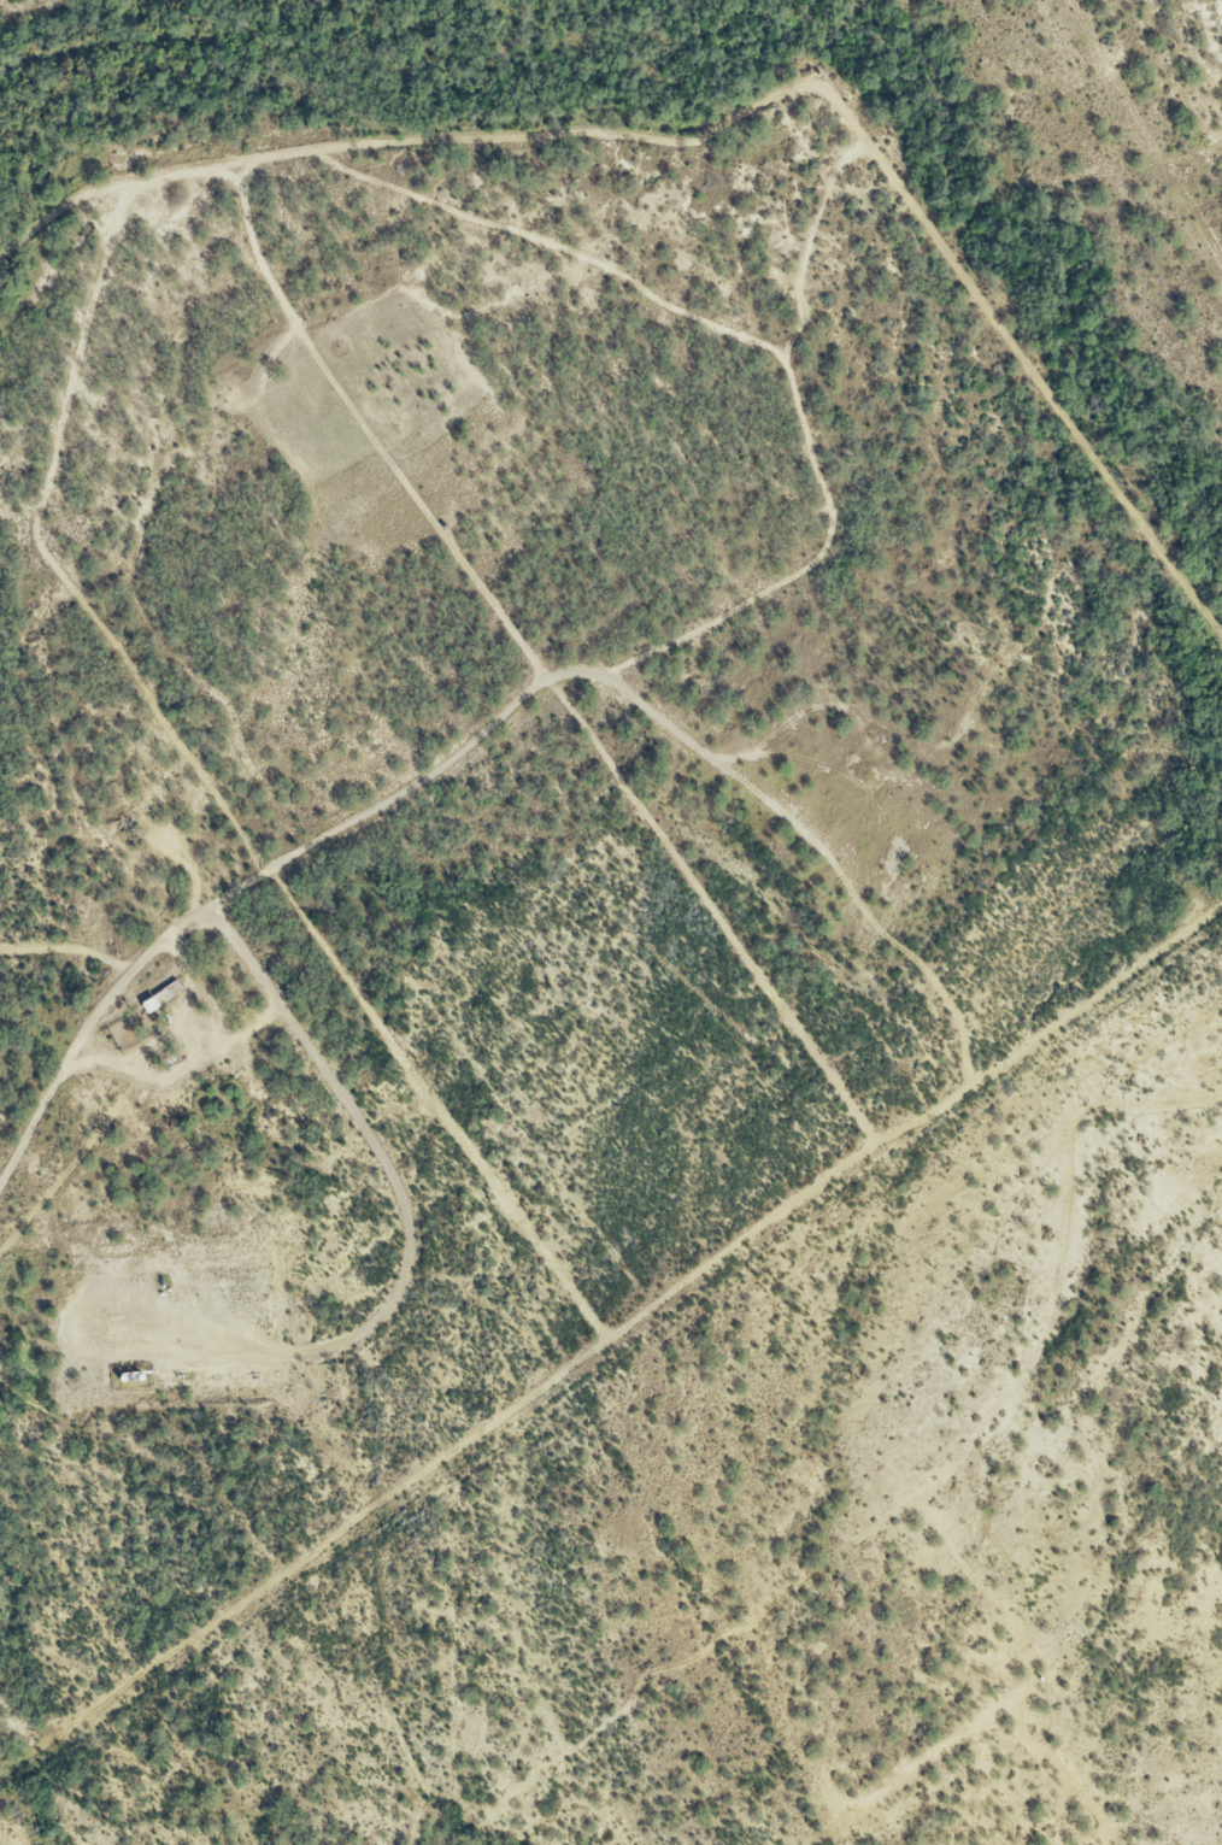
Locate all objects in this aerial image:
road: (394, 1400)

